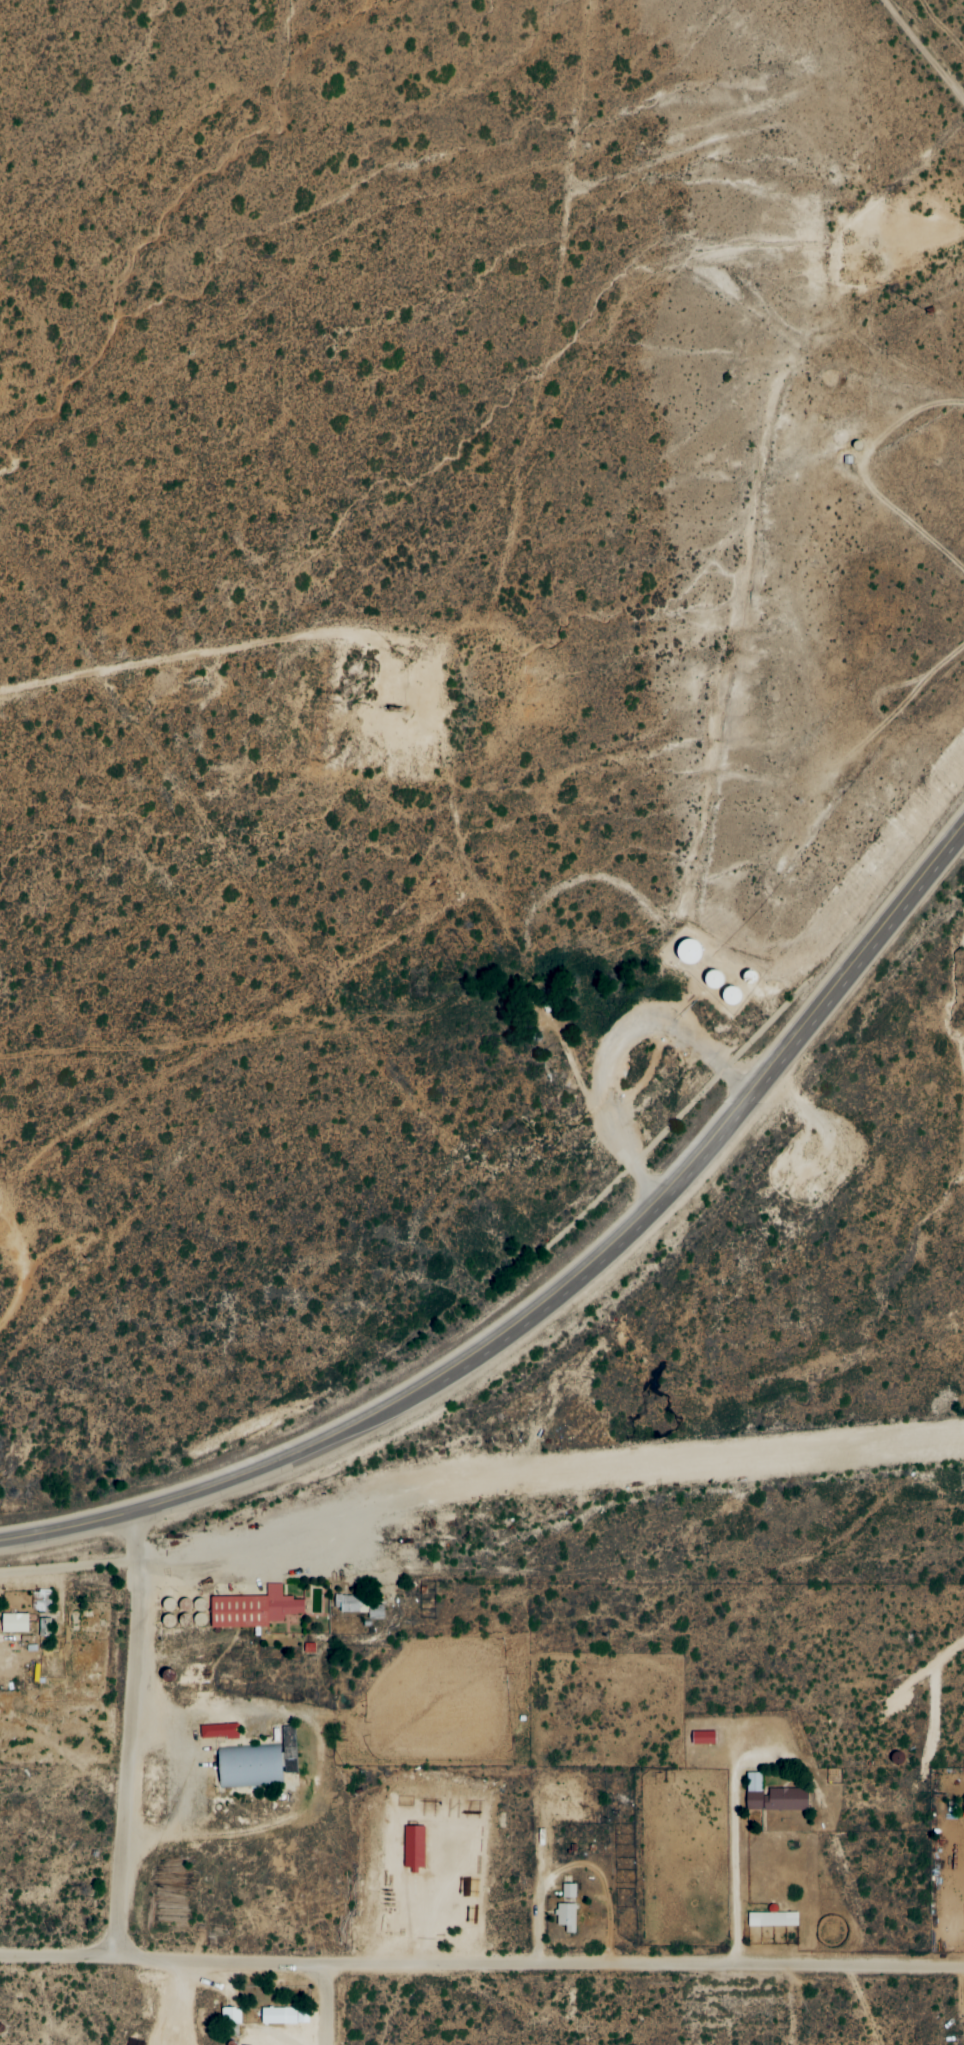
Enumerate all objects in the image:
road: (928, 46)
road: (556, 1291)
airport runway: (680, 1467)
building: (346, 1603)
building: (252, 1609)
building: (375, 1612)
building: (13, 1623)
building: (45, 1627)
building: (218, 1731)
road: (129, 1732)
building: (702, 1738)
building: (772, 1797)
building: (413, 1848)
building: (568, 1891)
building: (565, 1917)
building: (772, 1919)
road: (481, 1961)
road: (803, 2001)
road: (326, 2005)
building: (230, 2016)
building: (284, 2016)

